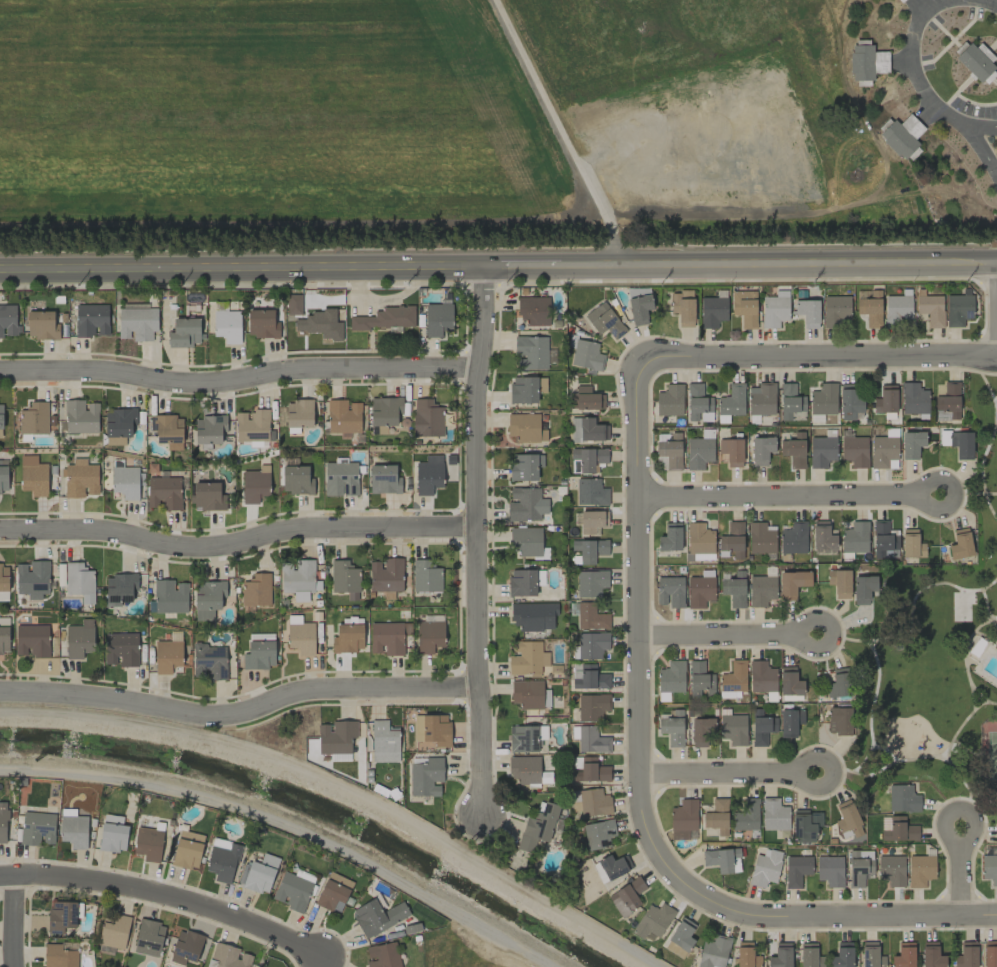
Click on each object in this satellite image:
road: (992, 2)
road: (906, 59)
building: (975, 61)
building: (866, 62)
road: (971, 125)
road: (564, 132)
building: (900, 134)
road: (981, 150)
road: (498, 271)
building: (293, 304)
building: (682, 307)
building: (744, 307)
building: (898, 307)
building: (870, 308)
building: (930, 308)
building: (958, 308)
building: (639, 309)
building: (774, 309)
building: (836, 309)
building: (533, 310)
building: (713, 310)
building: (806, 312)
building: (383, 318)
building: (437, 319)
building: (92, 320)
building: (604, 321)
building: (137, 323)
building: (263, 323)
building: (320, 324)
building: (42, 325)
building: (227, 326)
building: (185, 332)
building: (530, 352)
building: (586, 355)
road: (240, 381)
building: (526, 389)
building: (587, 399)
building: (761, 399)
building: (823, 399)
building: (885, 399)
building: (913, 399)
building: (669, 400)
building: (790, 401)
building: (849, 401)
building: (731, 402)
building: (948, 402)
building: (698, 404)
building: (384, 412)
building: (298, 413)
building: (1, 414)
building: (81, 416)
building: (343, 416)
building: (33, 418)
building: (426, 418)
building: (120, 422)
building: (252, 425)
building: (525, 427)
building: (209, 429)
building: (168, 430)
building: (587, 430)
building: (946, 438)
building: (911, 444)
building: (963, 445)
building: (794, 449)
building: (699, 450)
building: (761, 450)
building: (884, 450)
building: (668, 451)
building: (731, 451)
building: (821, 451)
building: (854, 451)
building: (589, 459)
building: (524, 466)
building: (428, 475)
building: (3, 476)
building: (34, 478)
building: (80, 478)
building: (340, 478)
building: (383, 479)
building: (296, 480)
building: (125, 482)
building: (254, 485)
road: (953, 485)
building: (164, 492)
building: (590, 492)
road: (780, 495)
building: (208, 496)
building: (525, 505)
building: (590, 521)
building: (822, 536)
road: (478, 538)
building: (669, 538)
building: (699, 538)
building: (793, 538)
building: (855, 538)
building: (732, 539)
building: (760, 539)
building: (884, 540)
building: (526, 541)
road: (238, 543)
building: (911, 544)
building: (960, 544)
building: (589, 549)
building: (700, 557)
building: (386, 575)
building: (4, 577)
building: (32, 577)
building: (425, 577)
building: (297, 578)
building: (344, 578)
building: (79, 581)
building: (839, 582)
building: (521, 583)
building: (590, 583)
building: (792, 583)
building: (121, 588)
building: (256, 589)
building: (734, 589)
building: (863, 589)
building: (670, 591)
building: (699, 591)
building: (761, 591)
building: (170, 596)
building: (208, 598)
road: (637, 606)
building: (533, 616)
building: (590, 617)
building: (351, 620)
road: (799, 625)
road: (717, 633)
building: (429, 636)
building: (301, 637)
building: (388, 637)
building: (347, 638)
building: (79, 639)
building: (4, 640)
building: (32, 640)
building: (592, 645)
building: (995, 647)
building: (121, 649)
building: (259, 655)
building: (167, 656)
building: (526, 658)
building: (209, 661)
building: (671, 677)
building: (761, 677)
building: (700, 680)
building: (733, 680)
building: (789, 681)
building: (837, 685)
building: (526, 694)
building: (592, 706)
road: (240, 714)
building: (839, 720)
building: (789, 722)
building: (671, 727)
building: (761, 728)
building: (431, 729)
building: (733, 729)
building: (701, 731)
building: (336, 737)
building: (527, 739)
building: (589, 739)
building: (384, 742)
building: (340, 757)
road: (835, 763)
building: (524, 769)
building: (593, 770)
road: (718, 771)
building: (426, 777)
road: (342, 790)
building: (902, 798)
building: (590, 802)
building: (746, 815)
building: (717, 816)
building: (774, 816)
building: (683, 819)
building: (848, 820)
building: (4, 825)
building: (537, 827)
building: (802, 827)
building: (37, 828)
building: (898, 829)
building: (74, 830)
building: (112, 833)
building: (598, 834)
building: (148, 843)
building: (187, 849)
building: (222, 860)
building: (722, 860)
building: (610, 867)
building: (859, 867)
building: (765, 868)
building: (989, 868)
road: (959, 869)
building: (796, 870)
building: (830, 870)
building: (891, 870)
building: (920, 870)
building: (258, 874)
road: (160, 892)
building: (292, 892)
building: (333, 893)
building: (626, 896)
building: (62, 916)
building: (378, 916)
building: (652, 920)
road: (10, 921)
building: (114, 932)
building: (682, 934)
building: (149, 938)
building: (185, 947)
building: (674, 950)
building: (713, 952)
building: (989, 953)
building: (382, 955)
building: (746, 955)
building: (780, 955)
building: (842, 955)
building: (871, 955)
building: (903, 955)
building: (931, 955)
building: (966, 955)
building: (59, 956)
building: (809, 956)

